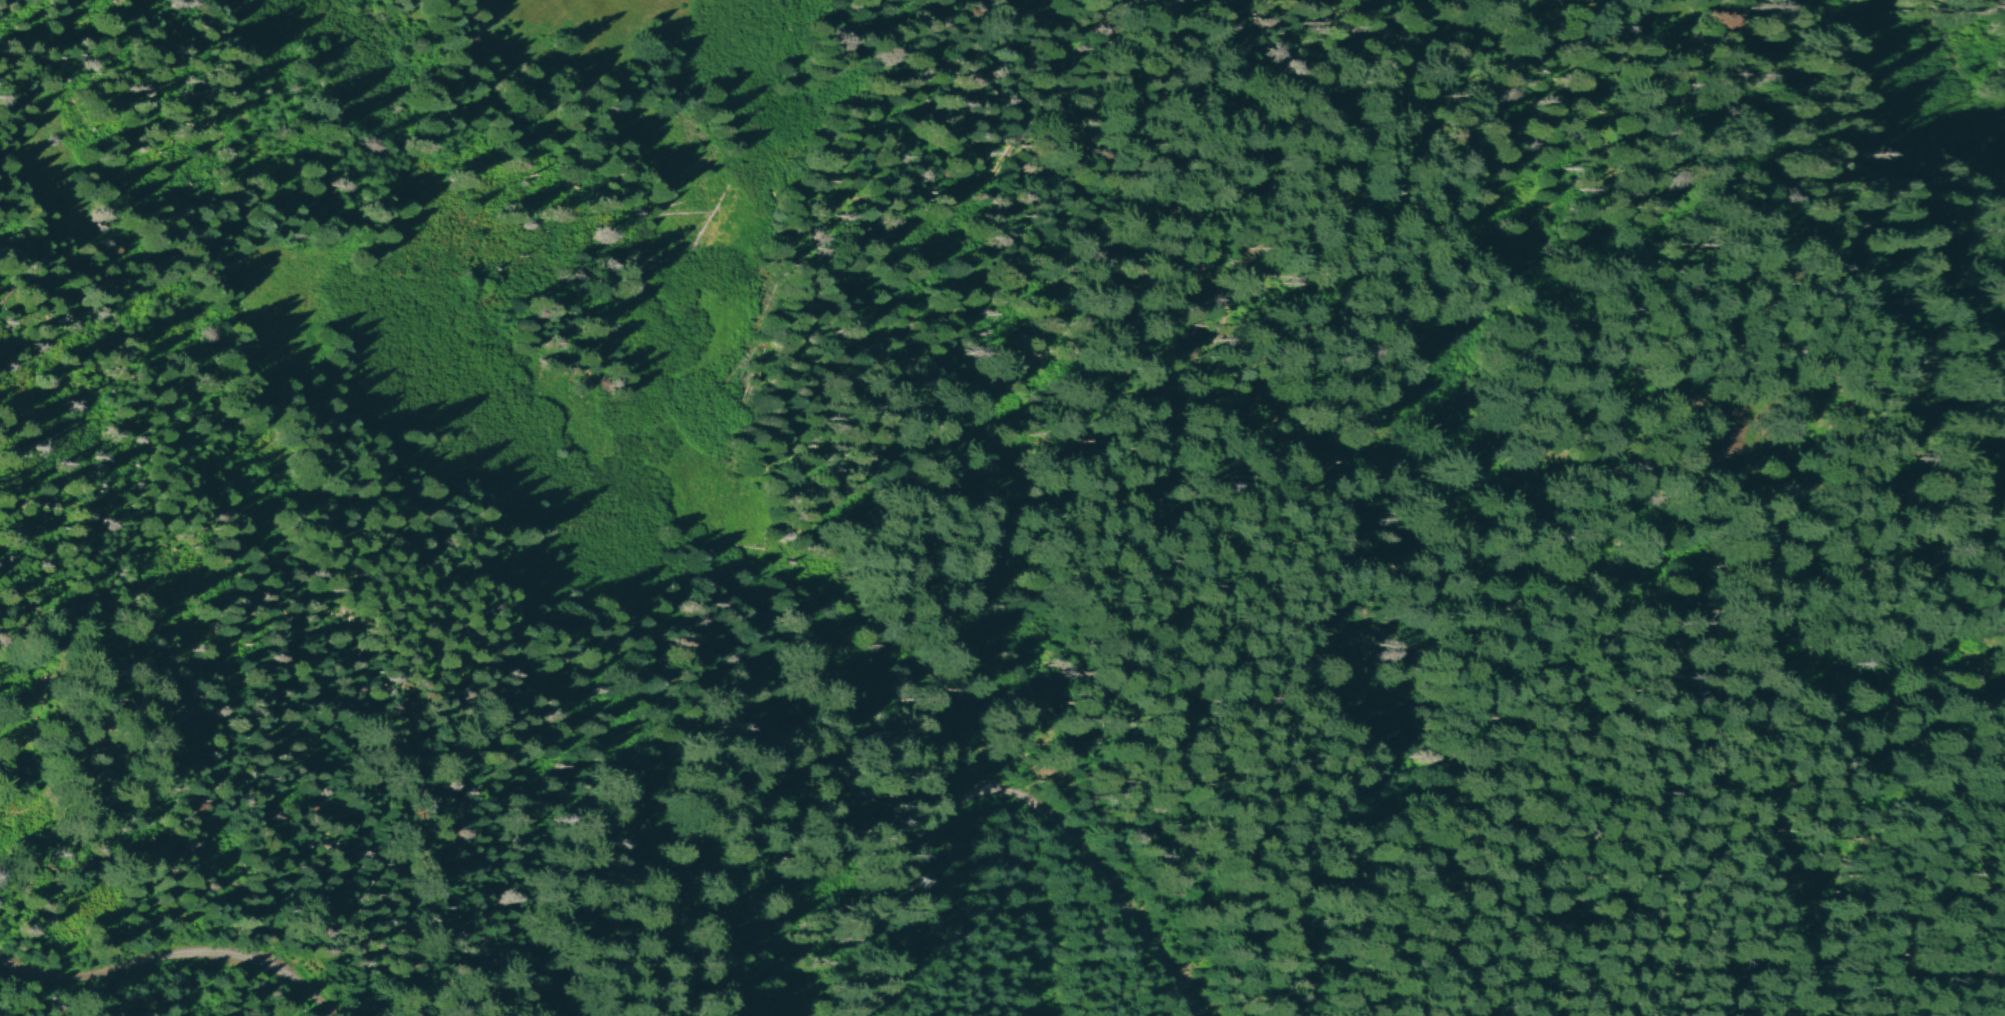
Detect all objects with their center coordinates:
road: (1746, 208)
road: (1010, 795)
road: (173, 959)

